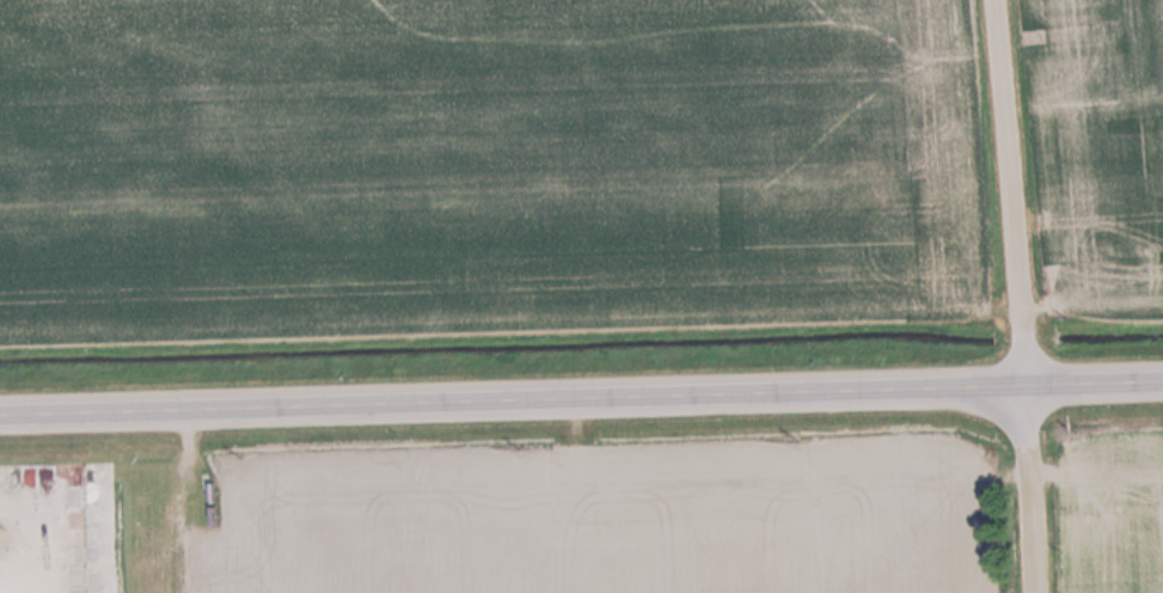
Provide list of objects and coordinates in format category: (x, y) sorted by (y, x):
road: (1005, 191)
road: (581, 397)
road: (1029, 488)

